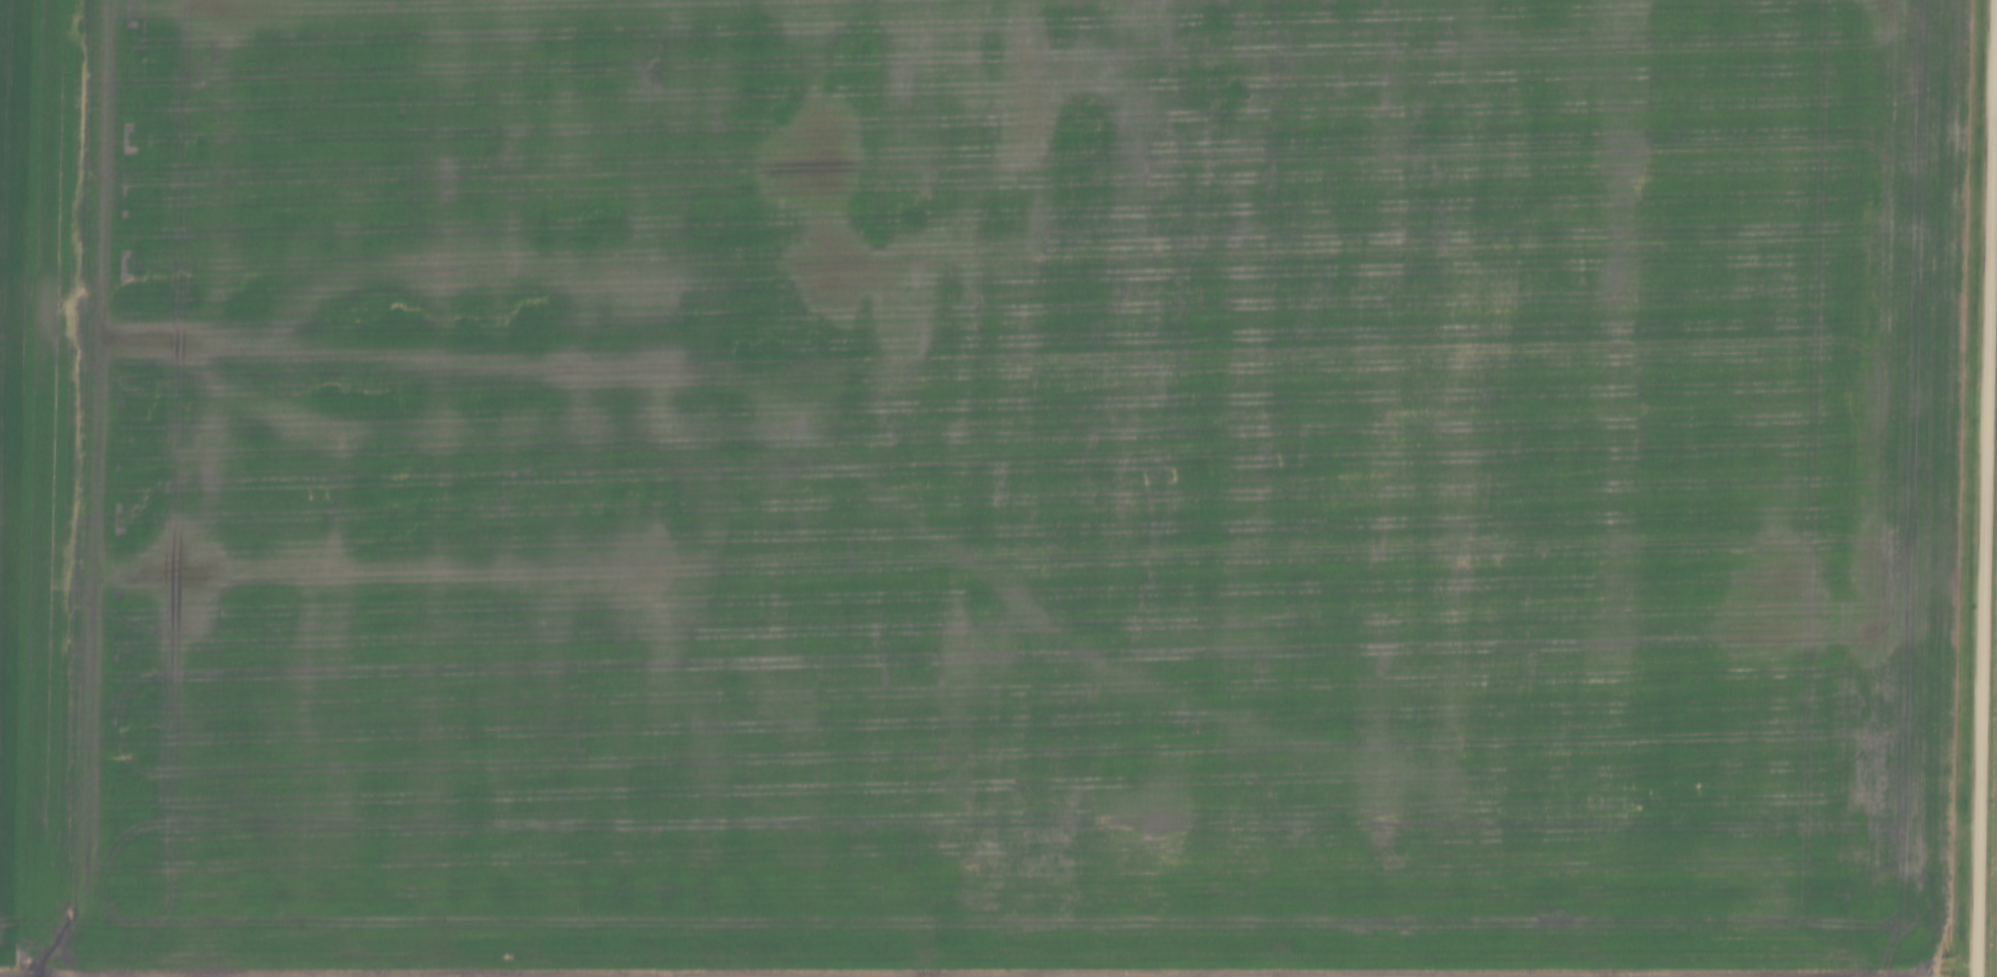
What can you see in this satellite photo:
road: (1989, 594)

